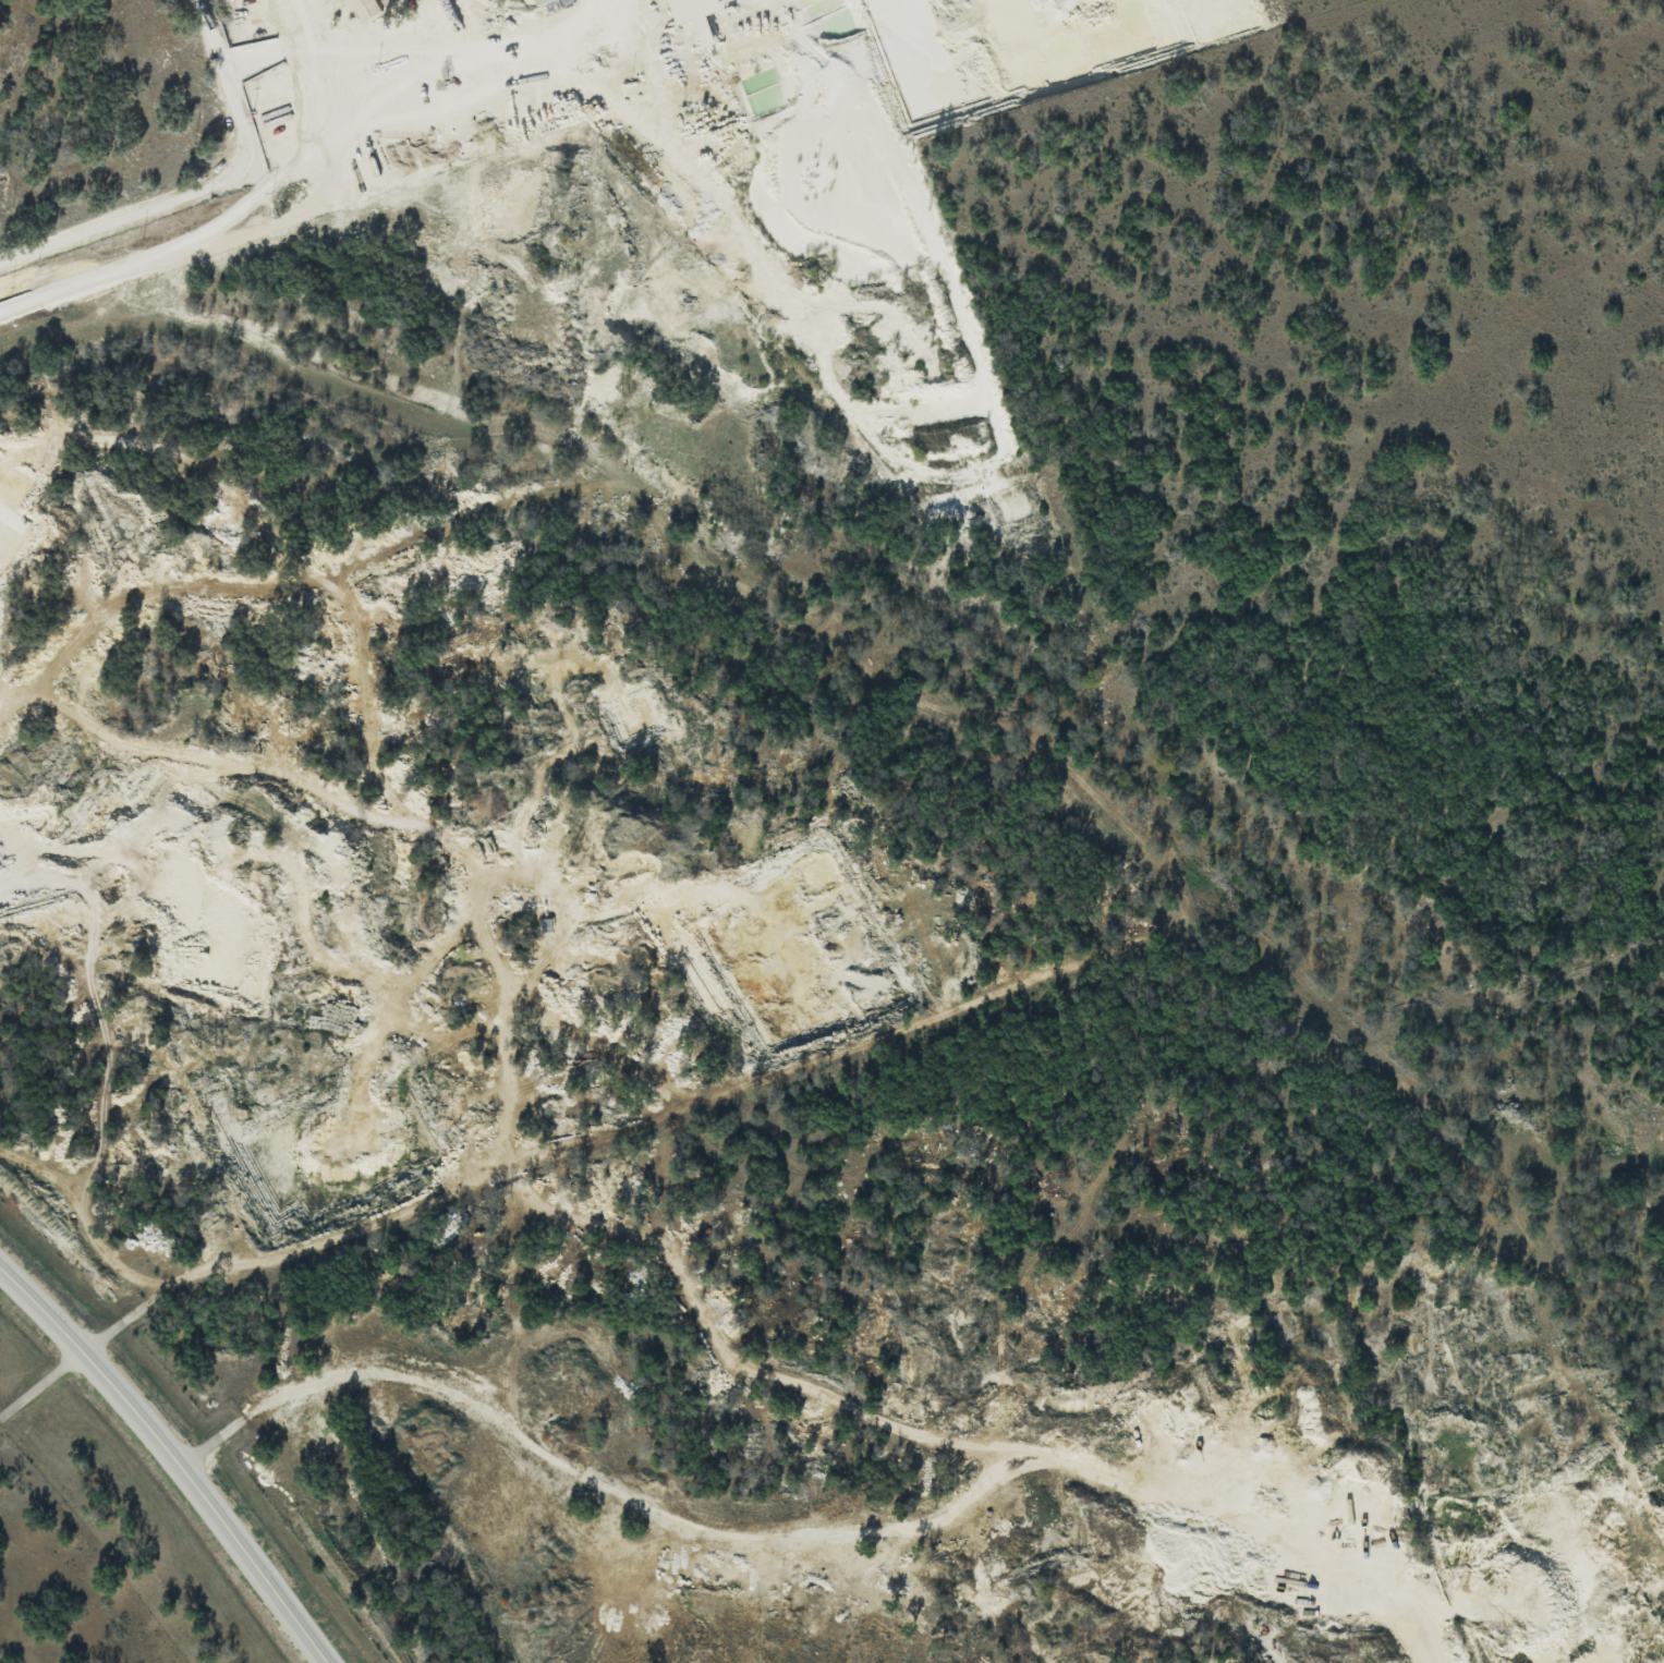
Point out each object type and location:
building: (381, 0)
building: (393, 0)
building: (542, 1)
building: (363, 9)
building: (695, 15)
road: (203, 193)
quarry: (726, 499)
road: (174, 1456)

